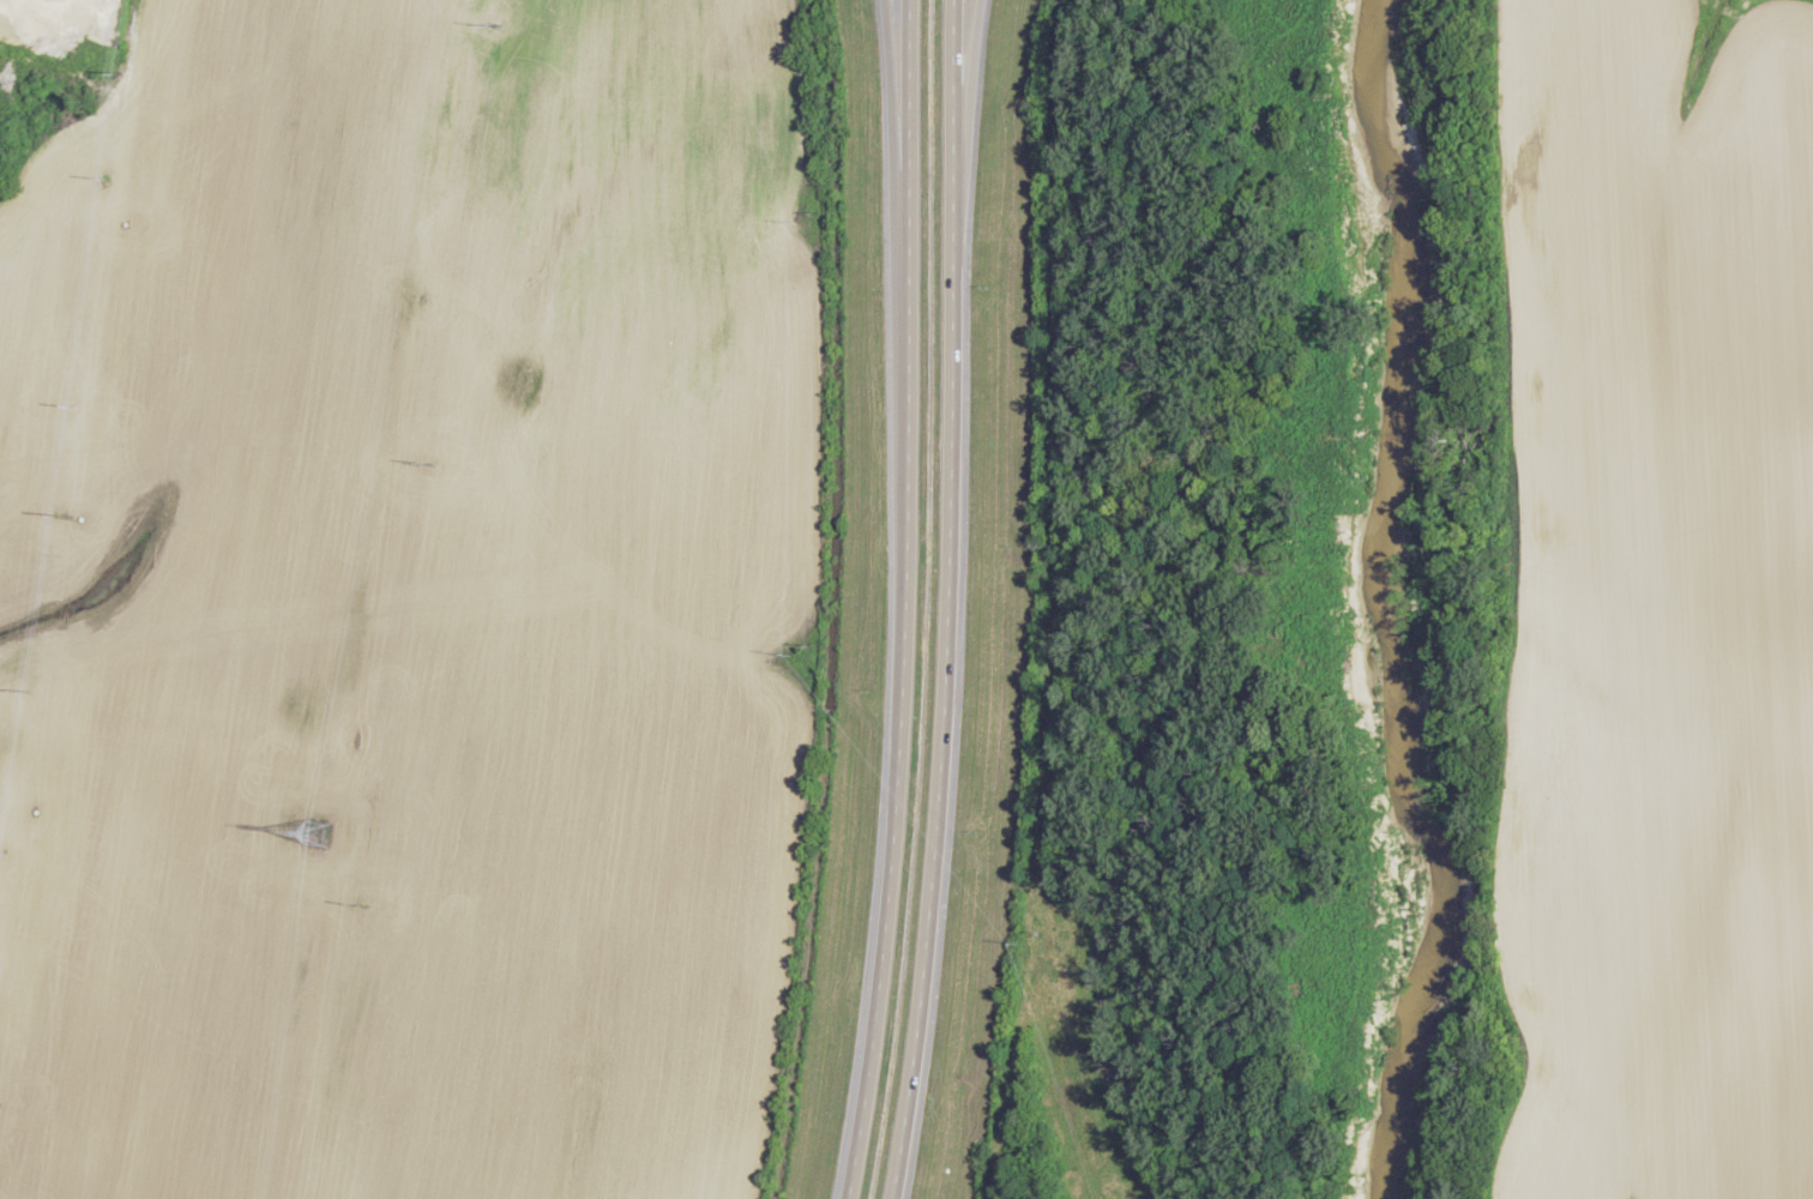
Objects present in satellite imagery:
power tower: (496, 26)
road: (963, 120)
road: (951, 121)
road: (892, 152)
road: (907, 152)
power tower: (430, 466)
river: (1383, 607)
road: (945, 722)
road: (902, 753)
power tower: (314, 833)
power tower: (365, 908)

